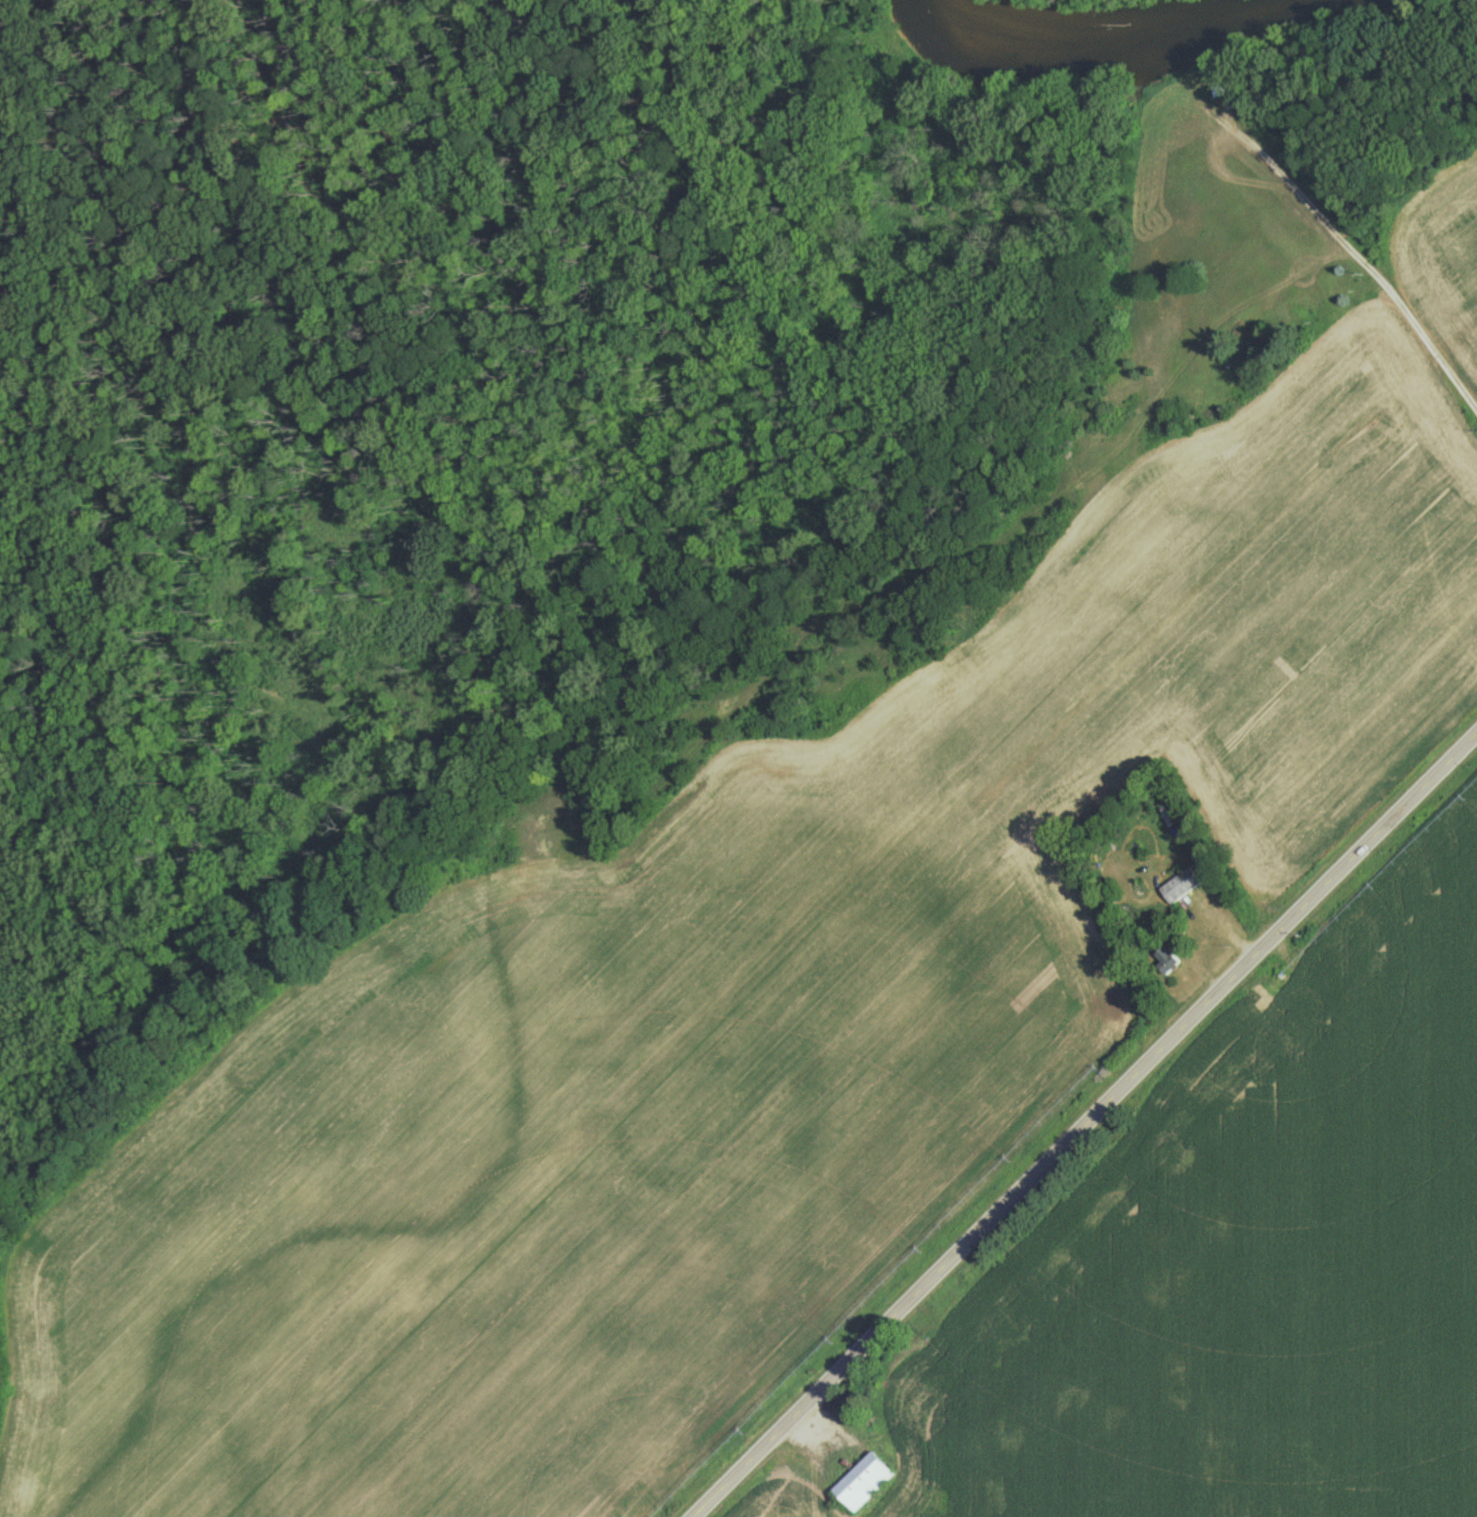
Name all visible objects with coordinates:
river: (1106, 36)
building: (1180, 889)
building: (1163, 963)
road: (1084, 1124)
building: (862, 1484)

